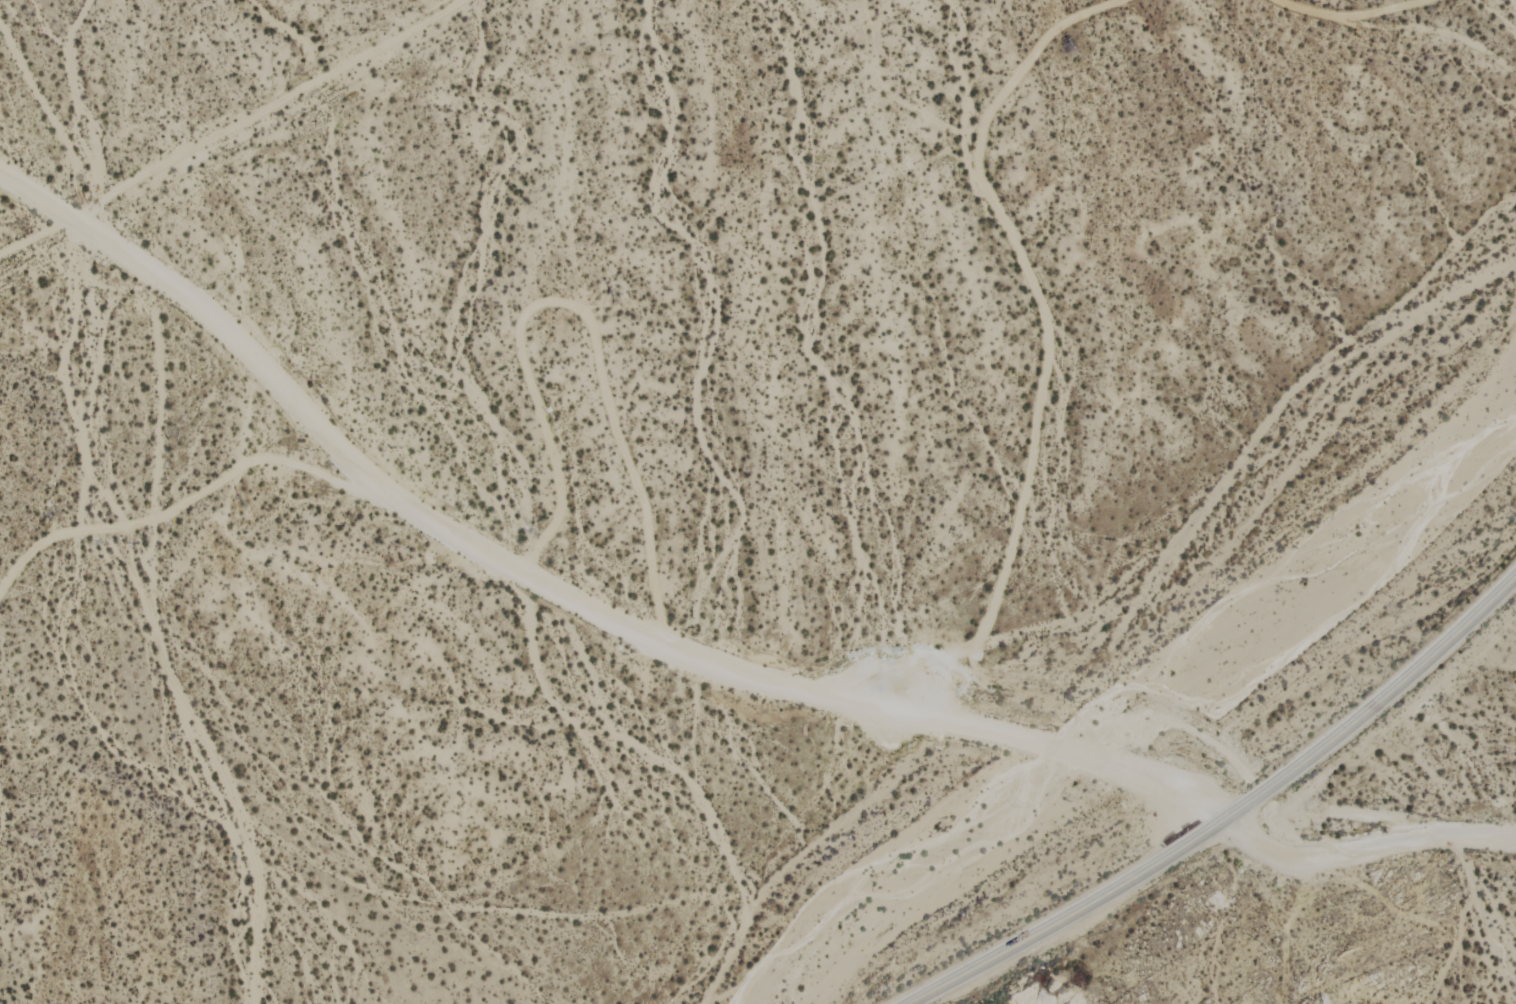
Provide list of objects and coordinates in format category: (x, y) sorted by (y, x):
power tower: (1059, 52)
road: (32, 198)
power tower: (615, 299)
power tower: (249, 500)
road: (595, 615)
road: (1374, 704)
road: (1363, 850)
road: (1068, 915)

